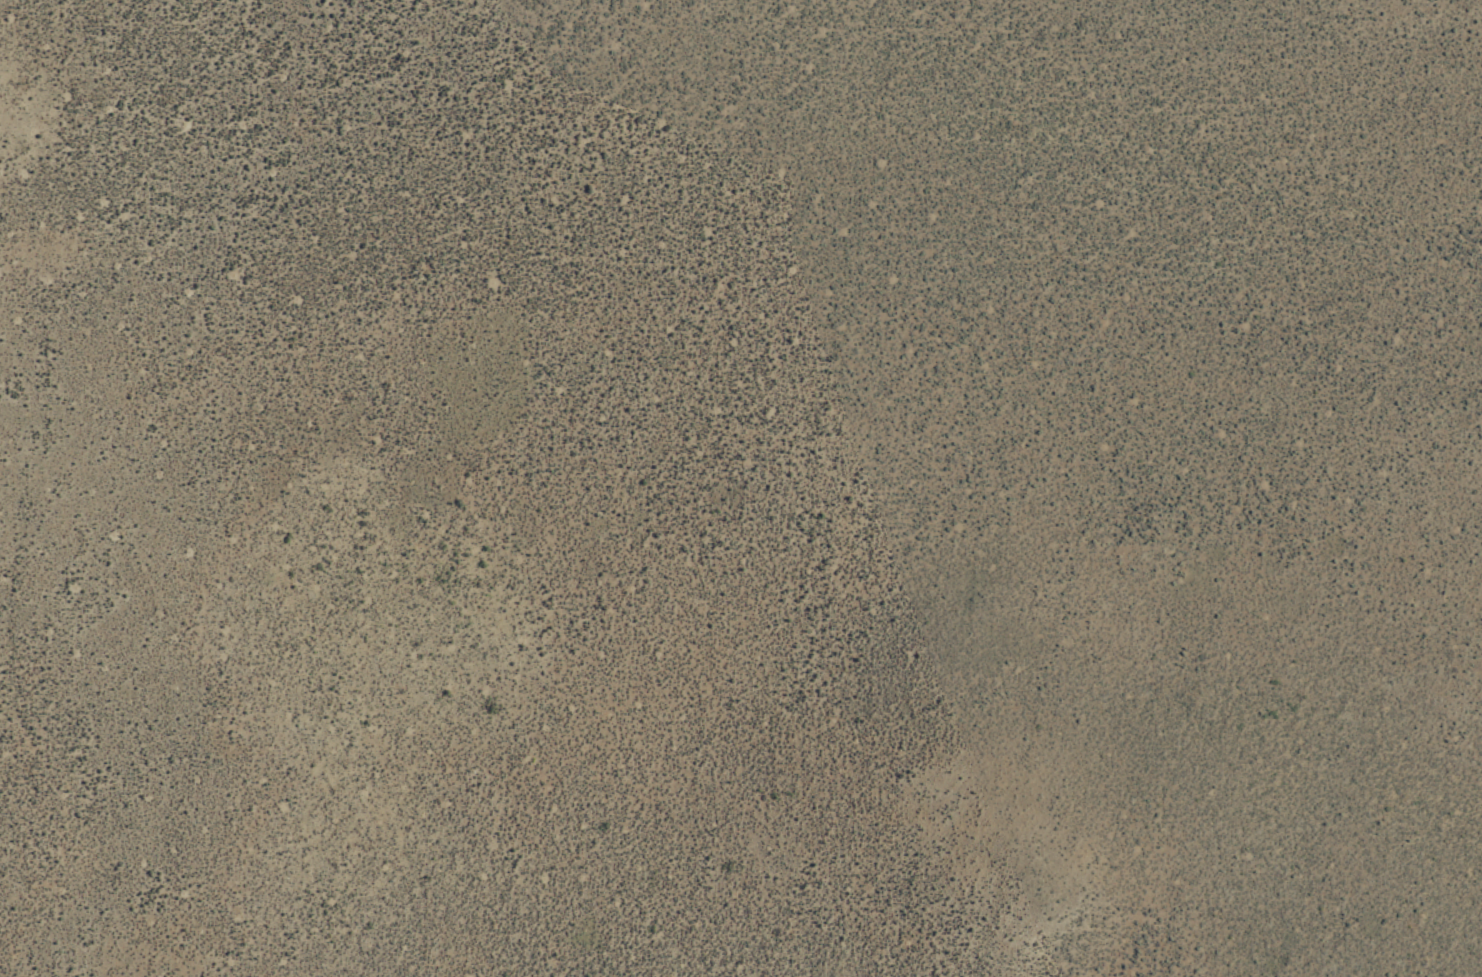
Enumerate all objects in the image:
crop: (685, 301)

